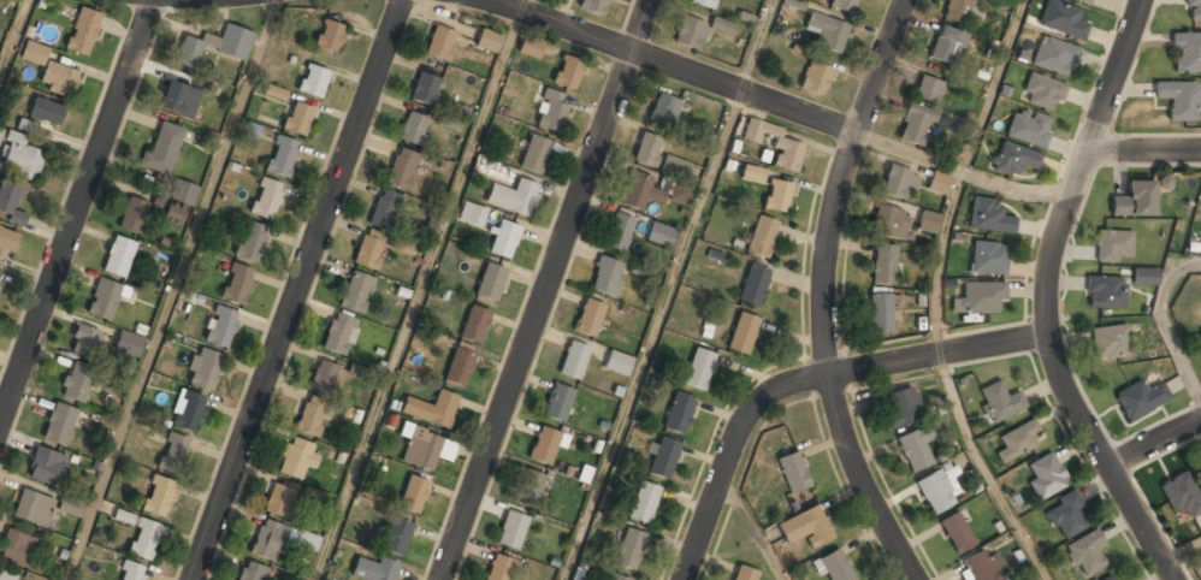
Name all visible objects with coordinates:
building: (1085, 1)
building: (703, 2)
building: (794, 4)
road: (525, 5)
building: (844, 5)
building: (594, 6)
building: (1193, 10)
building: (963, 11)
building: (1063, 19)
building: (82, 30)
building: (697, 31)
building: (827, 32)
road: (12, 34)
building: (329, 35)
building: (487, 40)
building: (439, 43)
road: (757, 45)
building: (213, 46)
building: (947, 46)
building: (529, 48)
building: (1187, 53)
building: (1054, 57)
road: (672, 64)
building: (49, 70)
building: (567, 73)
road: (1114, 77)
building: (815, 78)
building: (313, 79)
building: (425, 88)
building: (928, 89)
building: (1042, 89)
building: (274, 93)
building: (179, 99)
building: (1179, 100)
building: (663, 110)
building: (551, 111)
building: (47, 112)
building: (297, 118)
building: (446, 122)
building: (915, 125)
building: (1029, 126)
building: (413, 129)
building: (162, 149)
building: (647, 150)
building: (787, 153)
road: (1143, 153)
building: (536, 155)
building: (19, 156)
building: (282, 156)
building: (1013, 160)
building: (675, 167)
building: (401, 168)
road: (958, 172)
road: (963, 172)
building: (753, 173)
building: (899, 182)
building: (937, 184)
building: (652, 191)
building: (514, 197)
building: (777, 197)
building: (265, 199)
building: (1132, 200)
building: (179, 201)
building: (10, 202)
building: (384, 209)
road: (76, 213)
building: (472, 214)
building: (132, 215)
building: (990, 217)
building: (928, 221)
building: (891, 223)
building: (619, 233)
building: (661, 235)
building: (762, 237)
building: (504, 239)
building: (7, 241)
building: (252, 242)
building: (1112, 245)
building: (403, 247)
building: (369, 250)
building: (118, 256)
building: (988, 258)
building: (883, 265)
building: (607, 277)
building: (1144, 277)
building: (490, 282)
building: (237, 284)
building: (753, 286)
road: (171, 290)
road: (298, 290)
road: (545, 290)
building: (356, 292)
road: (823, 292)
building: (1106, 292)
road: (420, 295)
building: (980, 297)
building: (103, 298)
building: (880, 313)
building: (588, 318)
building: (474, 322)
road: (1164, 322)
building: (220, 326)
building: (338, 333)
building: (743, 333)
road: (652, 335)
building: (1200, 341)
building: (84, 342)
building: (1110, 342)
building: (128, 345)
building: (574, 360)
building: (461, 362)
building: (617, 363)
building: (699, 368)
building: (203, 369)
building: (323, 377)
road: (806, 378)
road: (1058, 378)
building: (77, 381)
building: (1140, 400)
building: (558, 402)
building: (999, 402)
building: (443, 408)
building: (903, 408)
building: (188, 410)
building: (679, 413)
building: (310, 418)
building: (59, 425)
building: (1017, 440)
road: (1153, 442)
building: (544, 445)
building: (917, 445)
building: (420, 448)
building: (173, 452)
building: (663, 456)
building: (296, 458)
building: (47, 467)
road: (983, 470)
building: (1200, 470)
building: (793, 472)
building: (1046, 475)
building: (531, 487)
building: (935, 492)
building: (413, 495)
building: (159, 496)
building: (1182, 496)
building: (316, 497)
building: (279, 501)
building: (644, 503)
building: (70, 507)
building: (34, 508)
building: (1065, 515)
building: (806, 527)
road: (751, 529)
building: (511, 531)
building: (956, 533)
building: (142, 537)
building: (392, 537)
building: (268, 540)
building: (307, 544)
building: (16, 549)
building: (629, 549)
building: (1085, 551)
road: (1181, 554)
building: (834, 566)
building: (980, 567)
building: (498, 568)
building: (375, 569)
building: (131, 572)
building: (252, 572)
building: (745, 574)
building: (4, 576)
building: (617, 578)
building: (1107, 578)

